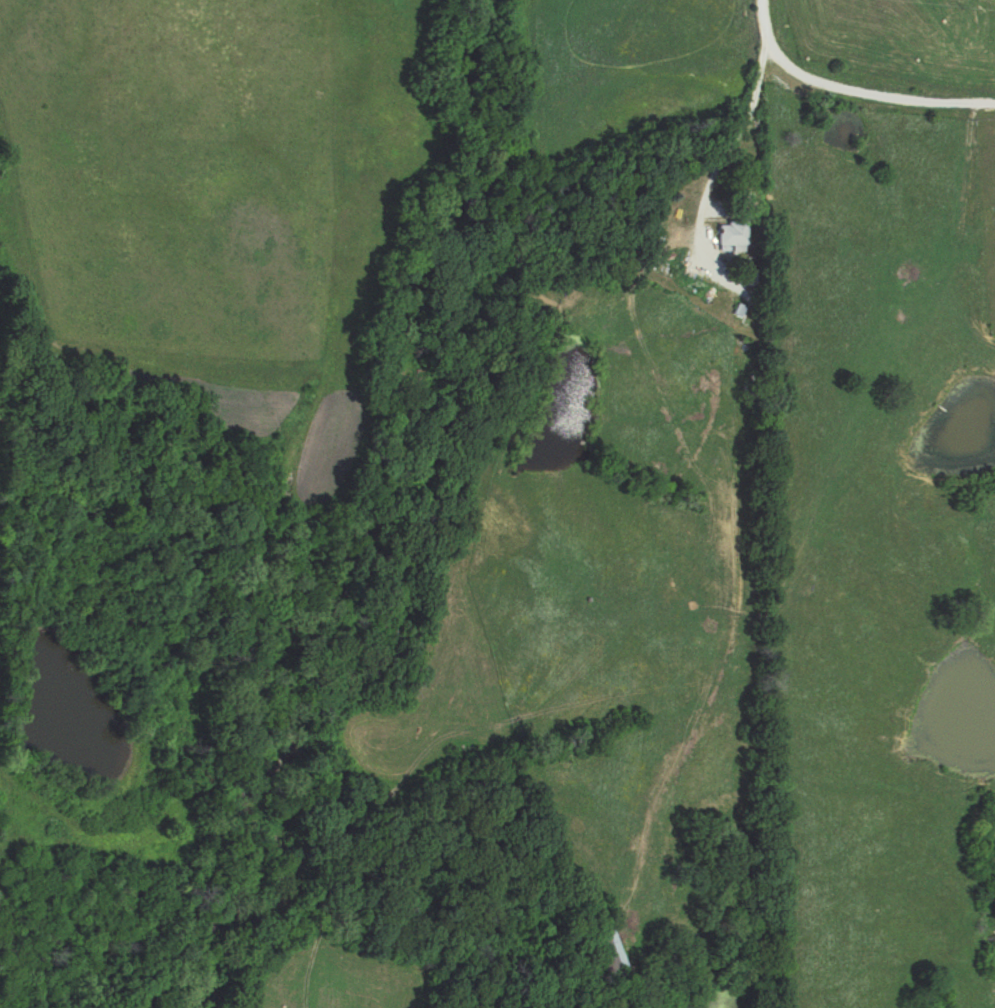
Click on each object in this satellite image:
road: (849, 93)
road: (713, 163)
park: (983, 207)
building: (726, 234)
building: (604, 945)

